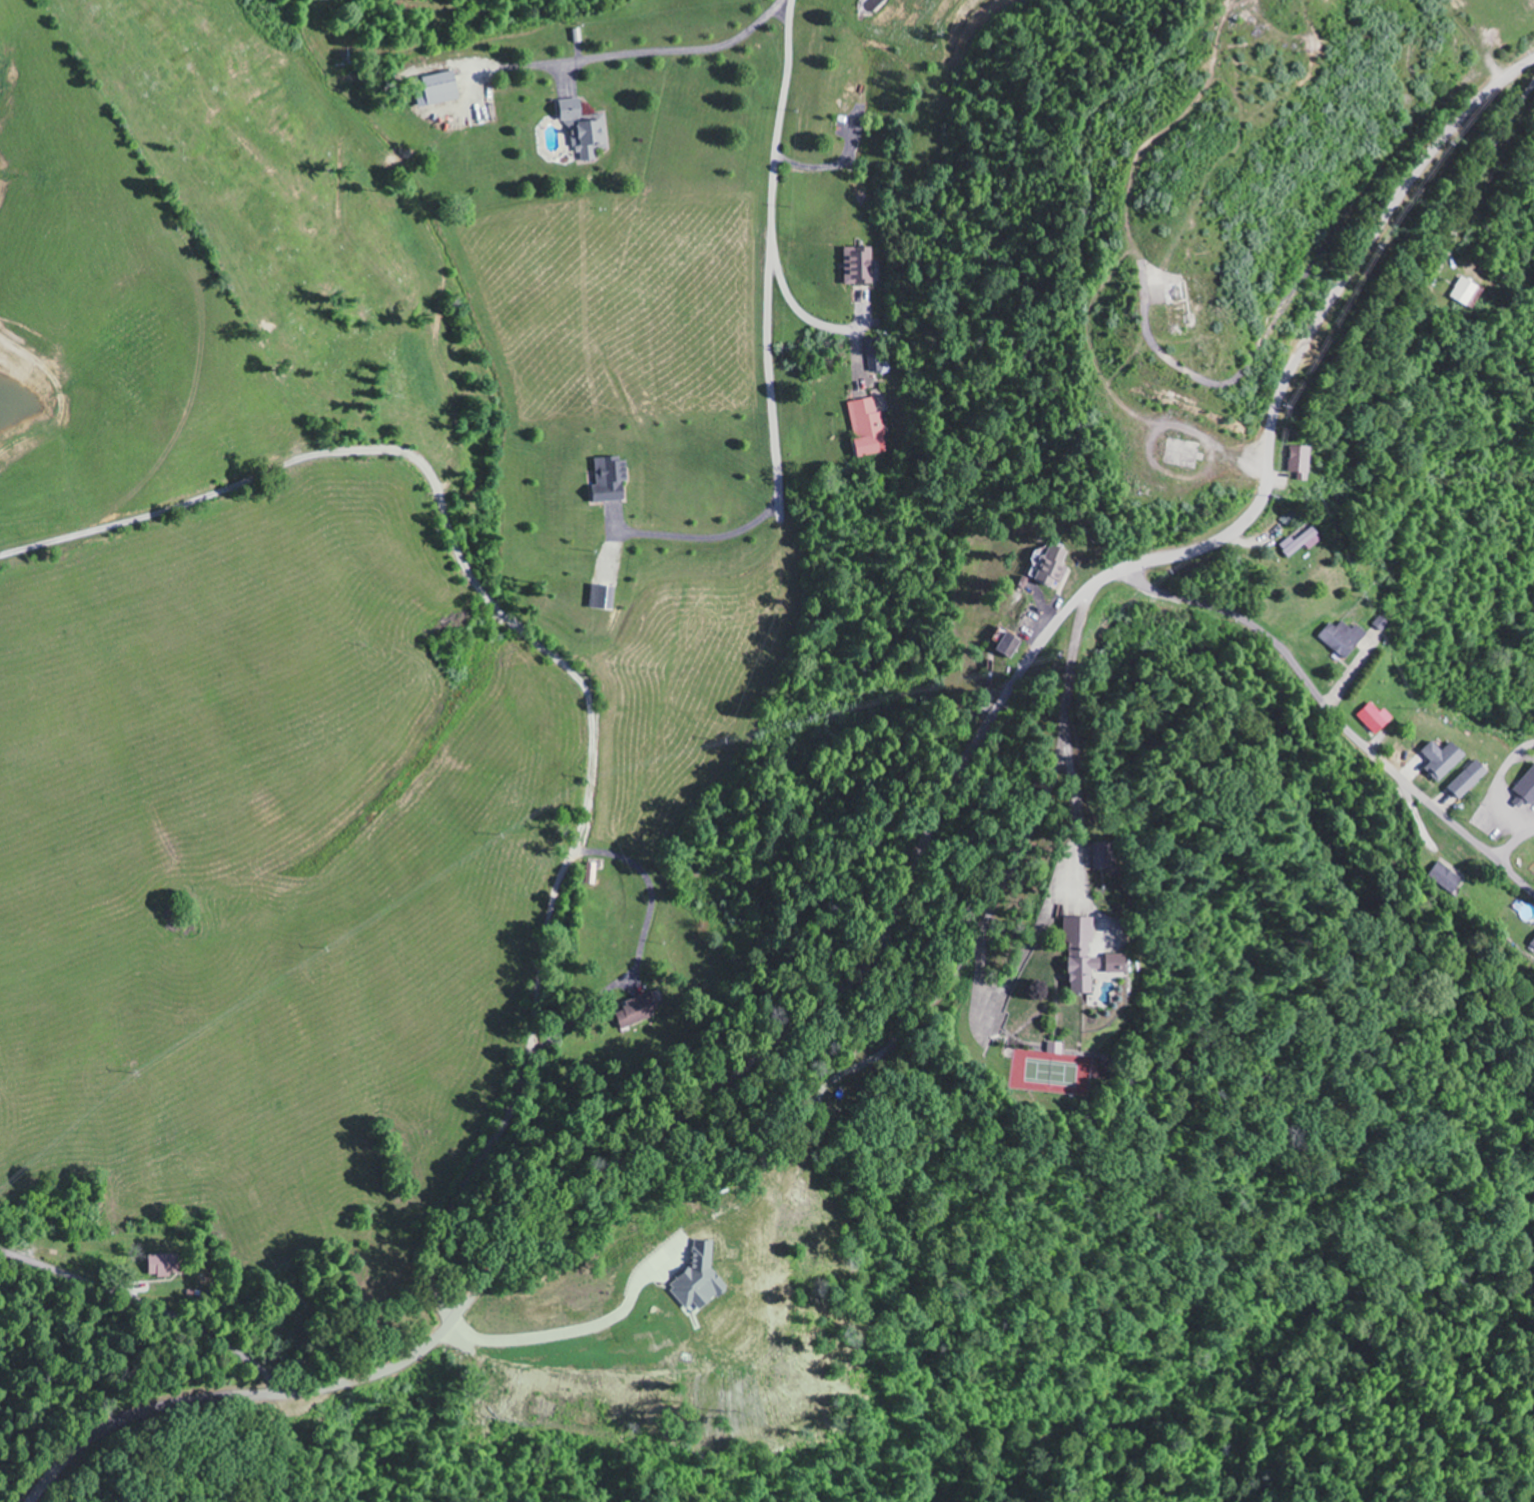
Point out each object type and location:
building: (442, 90)
building: (588, 130)
road: (1480, 175)
road: (774, 179)
building: (861, 267)
building: (1465, 292)
building: (869, 428)
building: (1301, 463)
building: (613, 480)
building: (1301, 543)
building: (1051, 566)
building: (604, 598)
building: (1344, 638)
building: (1011, 646)
road: (565, 670)
road: (1334, 713)
building: (1377, 717)
building: (1444, 759)
building: (1470, 779)
building: (1526, 790)
road: (1506, 823)
road: (1513, 843)
building: (1109, 854)
building: (594, 873)
building: (1447, 878)
road: (901, 902)
building: (1533, 945)
building: (1095, 956)
building: (642, 1009)
building: (1058, 1048)
building: (165, 1265)
building: (700, 1279)
road: (148, 1301)

